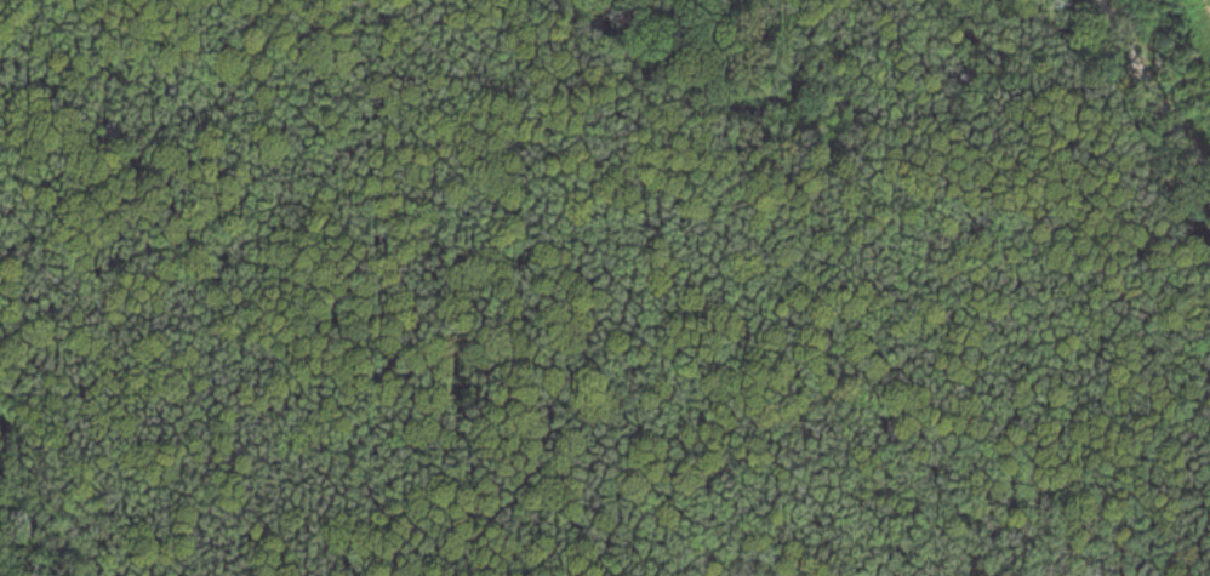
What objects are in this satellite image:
road: (1177, 42)

